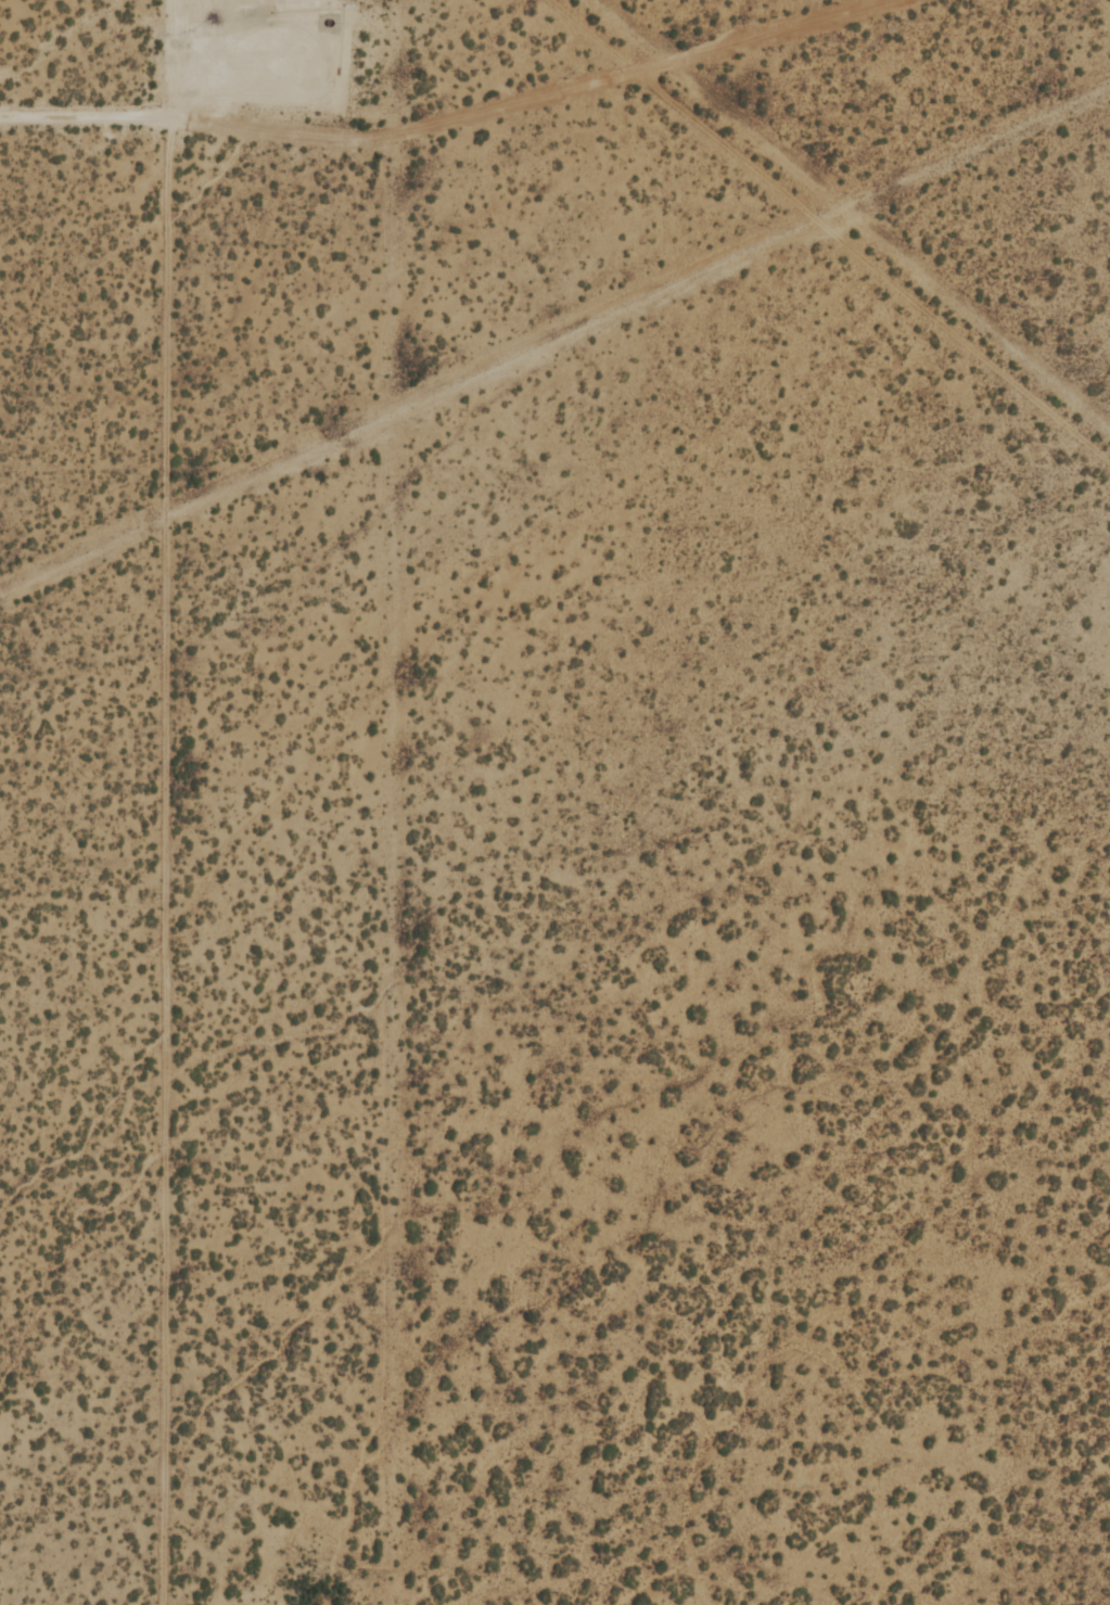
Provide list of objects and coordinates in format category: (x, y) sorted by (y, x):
road: (322, 52)
road: (254, 81)
road: (89, 116)
road: (166, 851)

